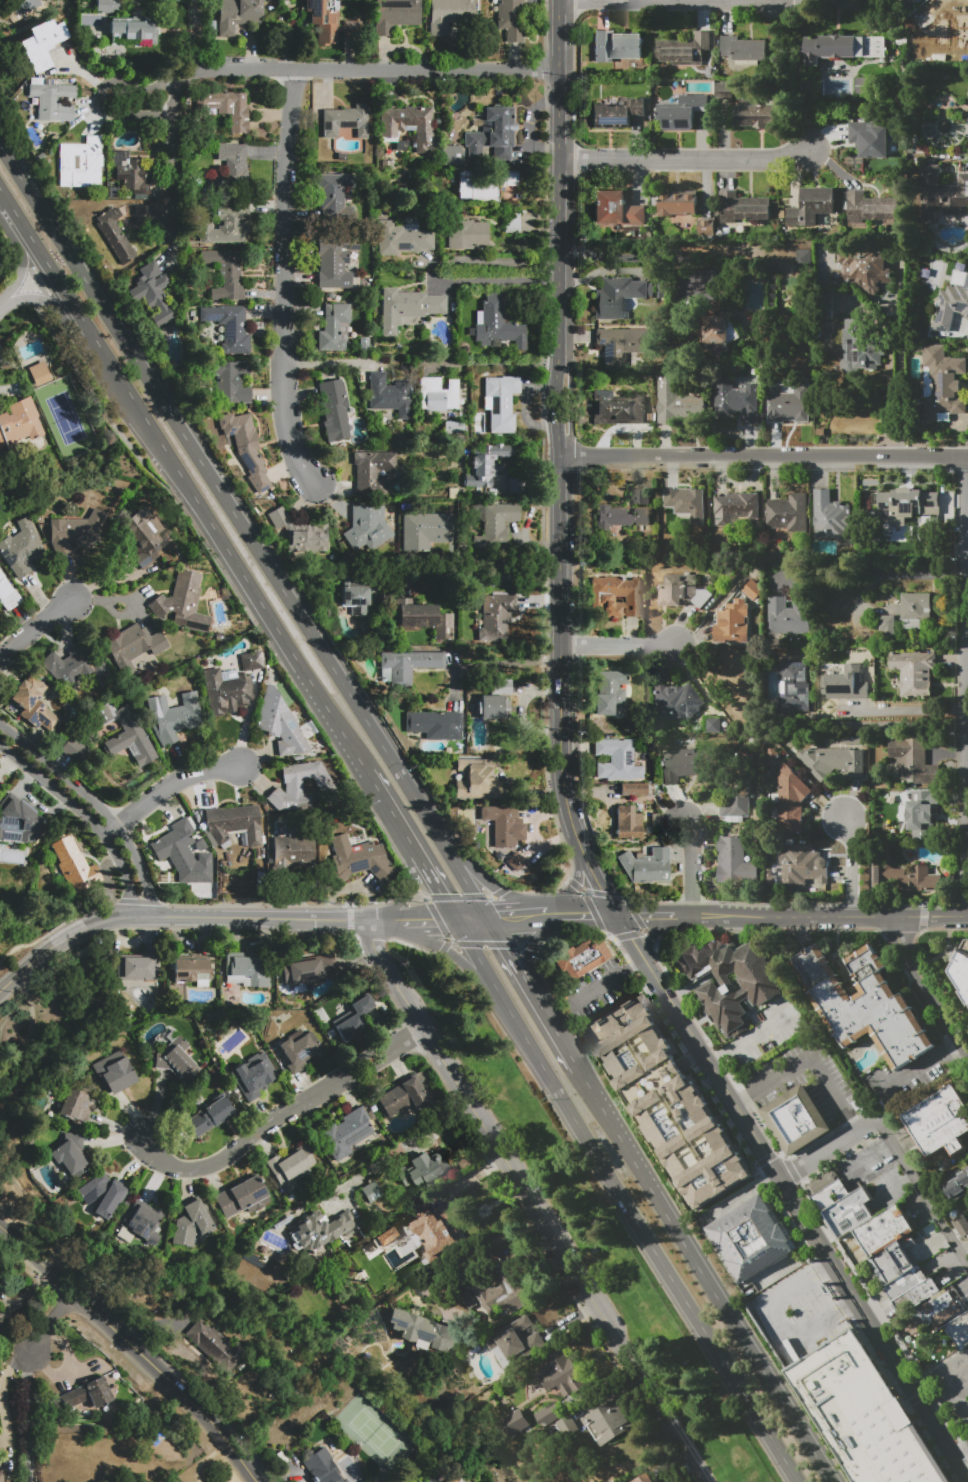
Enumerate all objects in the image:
building: (170, 0)
building: (137, 2)
building: (107, 6)
building: (238, 15)
building: (396, 15)
building: (450, 15)
building: (511, 19)
building: (333, 23)
building: (139, 27)
building: (944, 29)
road: (191, 38)
building: (44, 46)
building: (617, 46)
building: (839, 48)
building: (683, 50)
building: (742, 50)
road: (347, 72)
road: (135, 85)
building: (724, 92)
building: (54, 103)
building: (226, 108)
building: (680, 112)
building: (616, 113)
building: (757, 116)
building: (346, 120)
building: (410, 125)
building: (493, 135)
building: (869, 139)
building: (453, 154)
road: (172, 157)
building: (232, 161)
road: (688, 161)
building: (81, 164)
road: (562, 165)
building: (134, 173)
building: (483, 184)
building: (941, 194)
building: (336, 195)
building: (677, 203)
building: (742, 207)
building: (811, 207)
building: (870, 208)
building: (616, 212)
building: (144, 215)
building: (512, 222)
building: (228, 223)
building: (706, 230)
building: (467, 235)
building: (114, 236)
building: (403, 237)
road: (634, 255)
building: (333, 257)
building: (803, 258)
road: (23, 262)
road: (493, 262)
building: (863, 269)
building: (228, 272)
road: (288, 281)
road: (497, 283)
building: (152, 295)
building: (619, 295)
road: (42, 298)
building: (952, 301)
road: (6, 302)
building: (408, 307)
building: (498, 325)
building: (228, 327)
building: (333, 327)
building: (715, 333)
building: (620, 345)
building: (858, 349)
road: (899, 359)
road: (336, 362)
road: (489, 363)
building: (39, 373)
building: (231, 381)
building: (942, 385)
road: (556, 392)
road: (570, 393)
building: (439, 394)
road: (890, 394)
building: (388, 396)
building: (497, 400)
building: (675, 401)
building: (735, 402)
building: (789, 406)
building: (621, 407)
building: (334, 409)
park: (65, 418)
building: (20, 422)
building: (2, 442)
building: (246, 447)
road: (763, 456)
building: (489, 467)
building: (372, 471)
road: (186, 481)
building: (515, 486)
building: (641, 497)
building: (908, 501)
building: (686, 503)
building: (735, 507)
building: (787, 513)
building: (829, 515)
building: (621, 516)
building: (280, 518)
road: (247, 526)
building: (496, 526)
building: (369, 529)
building: (427, 530)
building: (76, 531)
building: (147, 535)
building: (308, 540)
building: (21, 548)
road: (872, 569)
road: (967, 569)
road: (228, 583)
building: (752, 590)
building: (682, 591)
building: (7, 593)
building: (616, 596)
building: (355, 598)
building: (181, 599)
building: (913, 609)
building: (418, 614)
building: (788, 616)
building: (496, 617)
building: (732, 623)
building: (879, 623)
building: (444, 626)
road: (37, 629)
road: (615, 644)
building: (136, 650)
road: (967, 658)
road: (486, 660)
building: (251, 661)
building: (77, 664)
building: (407, 665)
building: (913, 672)
building: (844, 683)
road: (965, 686)
building: (795, 687)
building: (226, 690)
road: (559, 691)
building: (610, 692)
building: (676, 702)
building: (34, 704)
building: (492, 706)
road: (905, 709)
building: (174, 717)
building: (281, 722)
building: (424, 722)
building: (711, 724)
road: (889, 725)
building: (131, 738)
building: (73, 749)
building: (772, 756)
building: (618, 758)
building: (831, 761)
building: (912, 761)
building: (681, 765)
building: (298, 783)
building: (476, 783)
road: (165, 787)
building: (634, 789)
road: (525, 791)
building: (791, 800)
building: (734, 801)
road: (96, 803)
road: (392, 812)
building: (923, 813)
road: (83, 817)
building: (18, 820)
building: (235, 823)
building: (628, 823)
building: (504, 825)
building: (291, 852)
building: (183, 853)
building: (358, 859)
building: (515, 861)
building: (733, 861)
building: (76, 863)
building: (802, 864)
road: (851, 865)
building: (647, 866)
road: (691, 867)
building: (903, 875)
road: (483, 878)
road: (574, 883)
road: (436, 885)
road: (406, 891)
traffic signals: (440, 891)
road: (551, 915)
road: (585, 915)
road: (224, 916)
road: (516, 916)
traffic signals: (614, 916)
road: (644, 916)
road: (696, 916)
road: (843, 916)
traffic signals: (499, 917)
road: (472, 919)
road: (385, 920)
road: (430, 922)
traffic signals: (435, 922)
road: (652, 934)
road: (68, 936)
road: (531, 945)
traffic signals: (506, 949)
road: (508, 952)
road: (451, 953)
road: (476, 953)
building: (578, 959)
road: (25, 966)
building: (137, 967)
building: (192, 968)
building: (961, 968)
building: (247, 969)
building: (307, 970)
road: (606, 981)
building: (732, 983)
road: (926, 983)
parking lot: (595, 990)
building: (862, 1005)
road: (673, 1009)
building: (750, 1011)
road: (14, 1013)
building: (353, 1018)
road: (554, 1028)
road: (32, 1029)
road: (751, 1038)
building: (297, 1049)
building: (177, 1058)
road: (921, 1063)
building: (114, 1072)
building: (254, 1076)
road: (770, 1079)
road: (835, 1092)
building: (403, 1095)
building: (666, 1101)
building: (77, 1106)
building: (211, 1116)
road: (284, 1117)
road: (759, 1119)
building: (797, 1119)
building: (941, 1122)
road: (745, 1124)
building: (346, 1133)
road: (401, 1146)
road: (828, 1148)
building: (71, 1154)
road: (857, 1156)
building: (289, 1164)
building: (423, 1170)
building: (956, 1184)
road: (895, 1186)
building: (372, 1192)
road: (923, 1192)
building: (104, 1193)
building: (242, 1197)
road: (530, 1203)
building: (845, 1207)
park: (586, 1218)
building: (141, 1223)
building: (192, 1223)
building: (960, 1225)
building: (873, 1228)
building: (320, 1230)
building: (437, 1233)
building: (388, 1236)
road: (645, 1236)
building: (750, 1239)
building: (881, 1242)
road: (481, 1246)
building: (885, 1267)
road: (704, 1276)
building: (906, 1282)
building: (497, 1292)
building: (915, 1295)
road: (790, 1300)
building: (944, 1306)
parking lot: (797, 1311)
road: (861, 1313)
road: (47, 1322)
building: (918, 1322)
road: (828, 1329)
building: (423, 1330)
building: (514, 1341)
building: (216, 1346)
building: (932, 1348)
road: (135, 1349)
road: (943, 1370)
building: (560, 1373)
road: (915, 1388)
parking lot: (953, 1390)
road: (949, 1393)
building: (89, 1394)
road: (927, 1407)
building: (548, 1415)
road: (28, 1418)
building: (517, 1422)
building: (608, 1422)
road: (957, 1424)
building: (567, 1425)
park: (372, 1430)
building: (883, 1433)
road: (943, 1433)
road: (965, 1453)
road: (958, 1457)
building: (321, 1467)
building: (1, 1477)
building: (451, 1479)
building: (643, 1479)
parking lot: (950, 1480)

